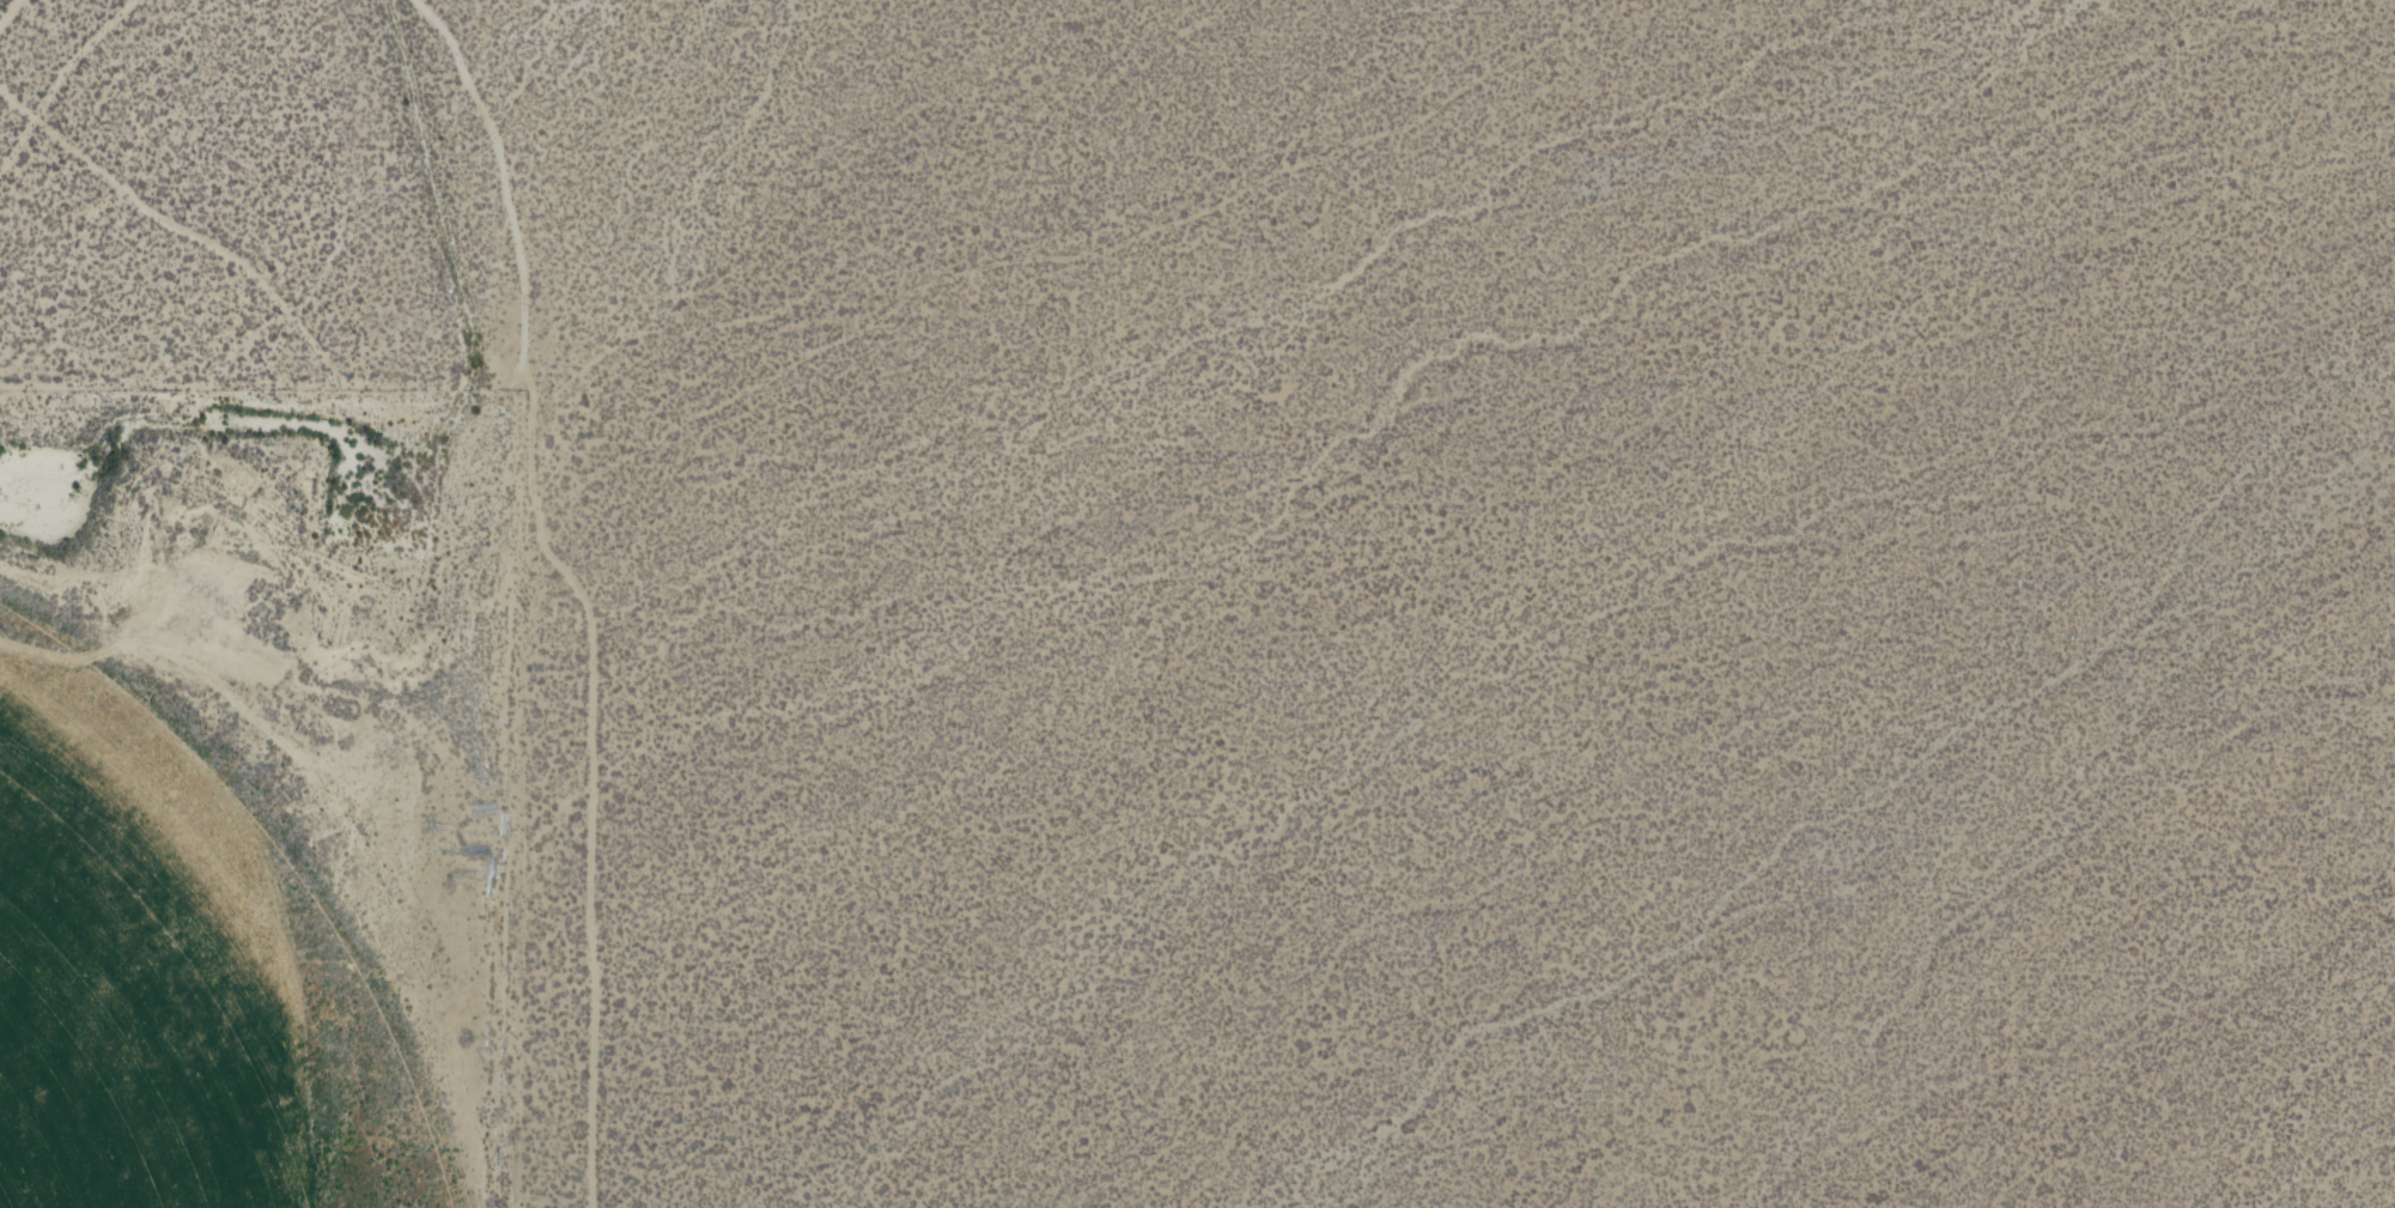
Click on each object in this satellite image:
road: (11, 16)
road: (59, 83)
road: (184, 226)
road: (1071, 256)
road: (570, 585)
road: (500, 856)
crop: (183, 966)

